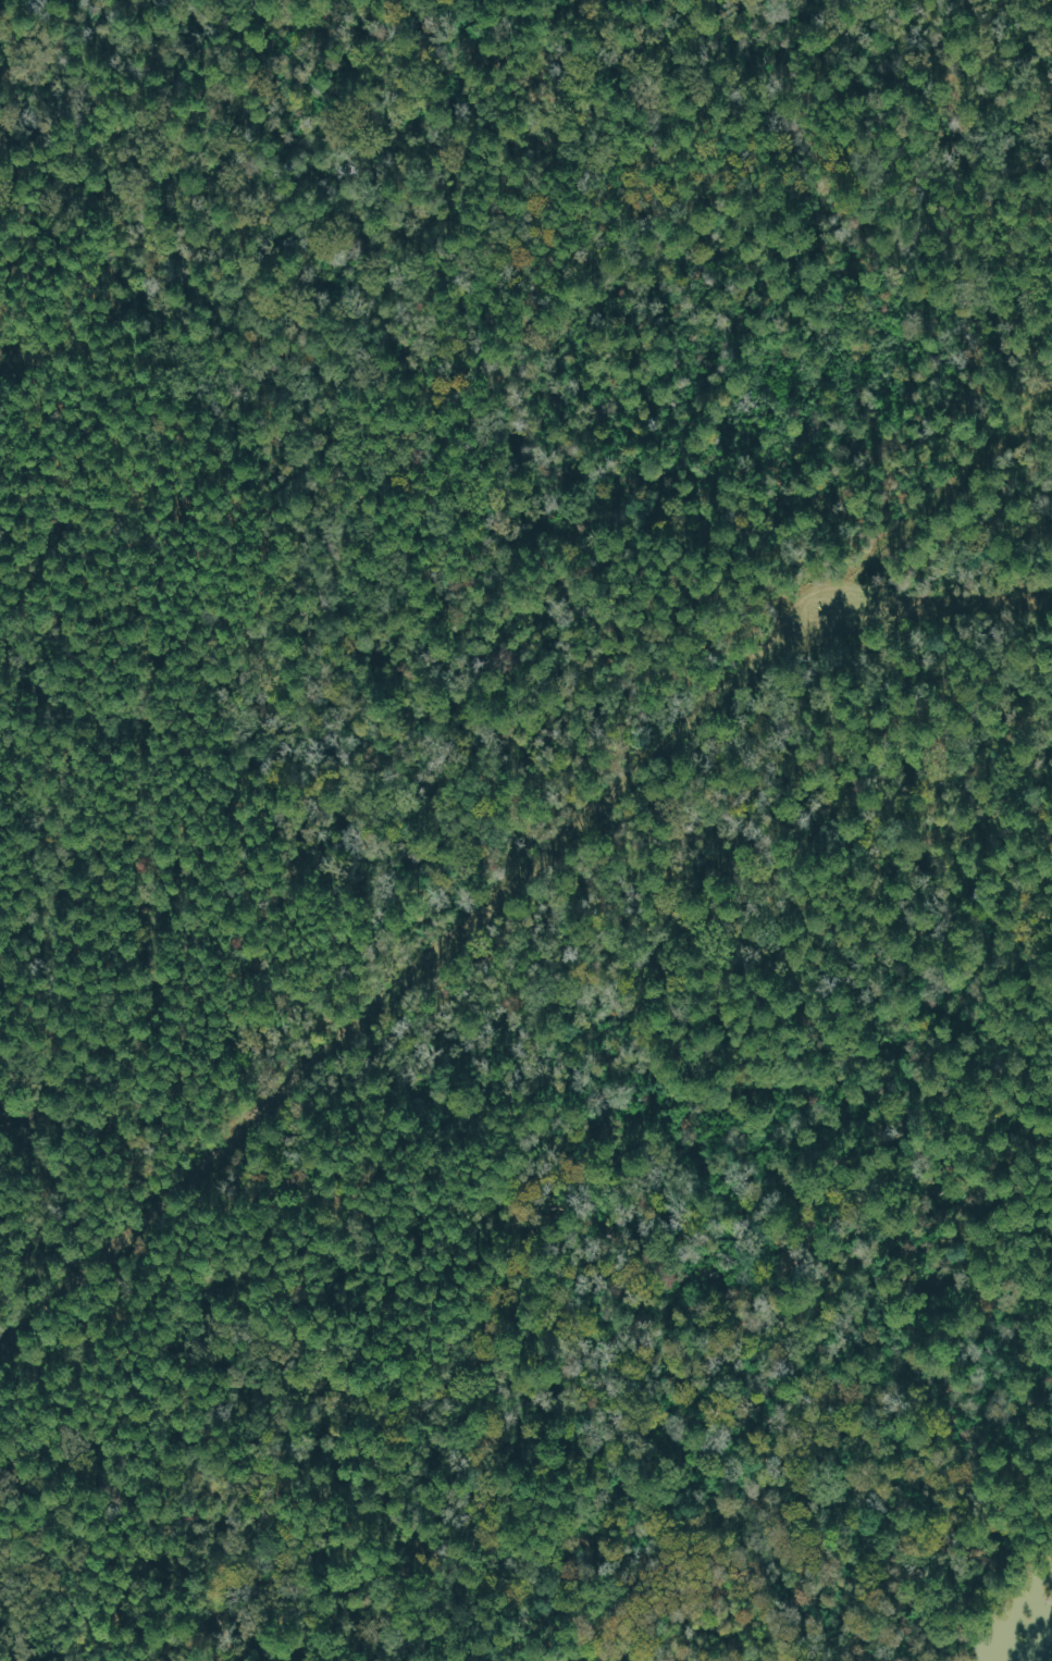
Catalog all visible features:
river: (1041, 1643)

